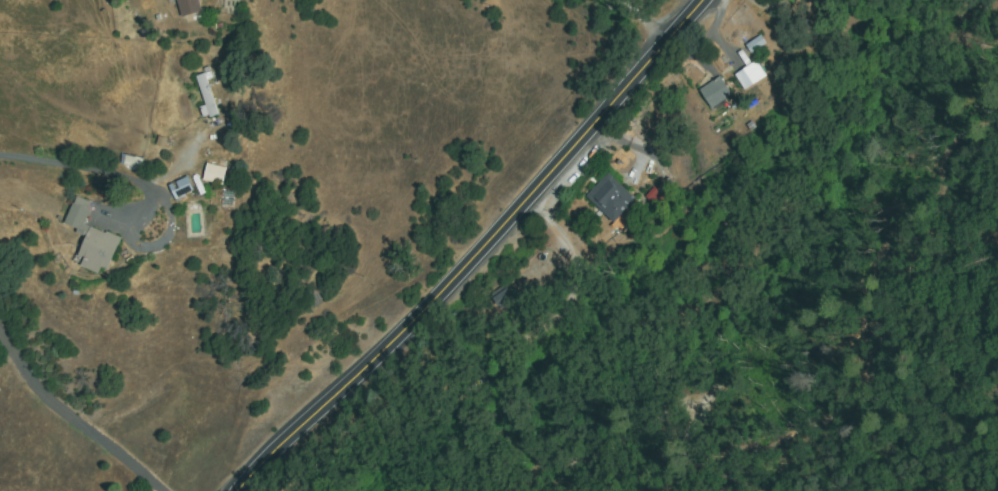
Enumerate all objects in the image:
building: (190, 10)
building: (756, 43)
building: (791, 71)
building: (751, 75)
building: (716, 93)
building: (206, 95)
building: (214, 174)
building: (173, 185)
building: (182, 188)
building: (662, 193)
building: (613, 201)
building: (71, 211)
building: (92, 238)
road: (477, 251)
building: (501, 298)
road: (72, 424)

